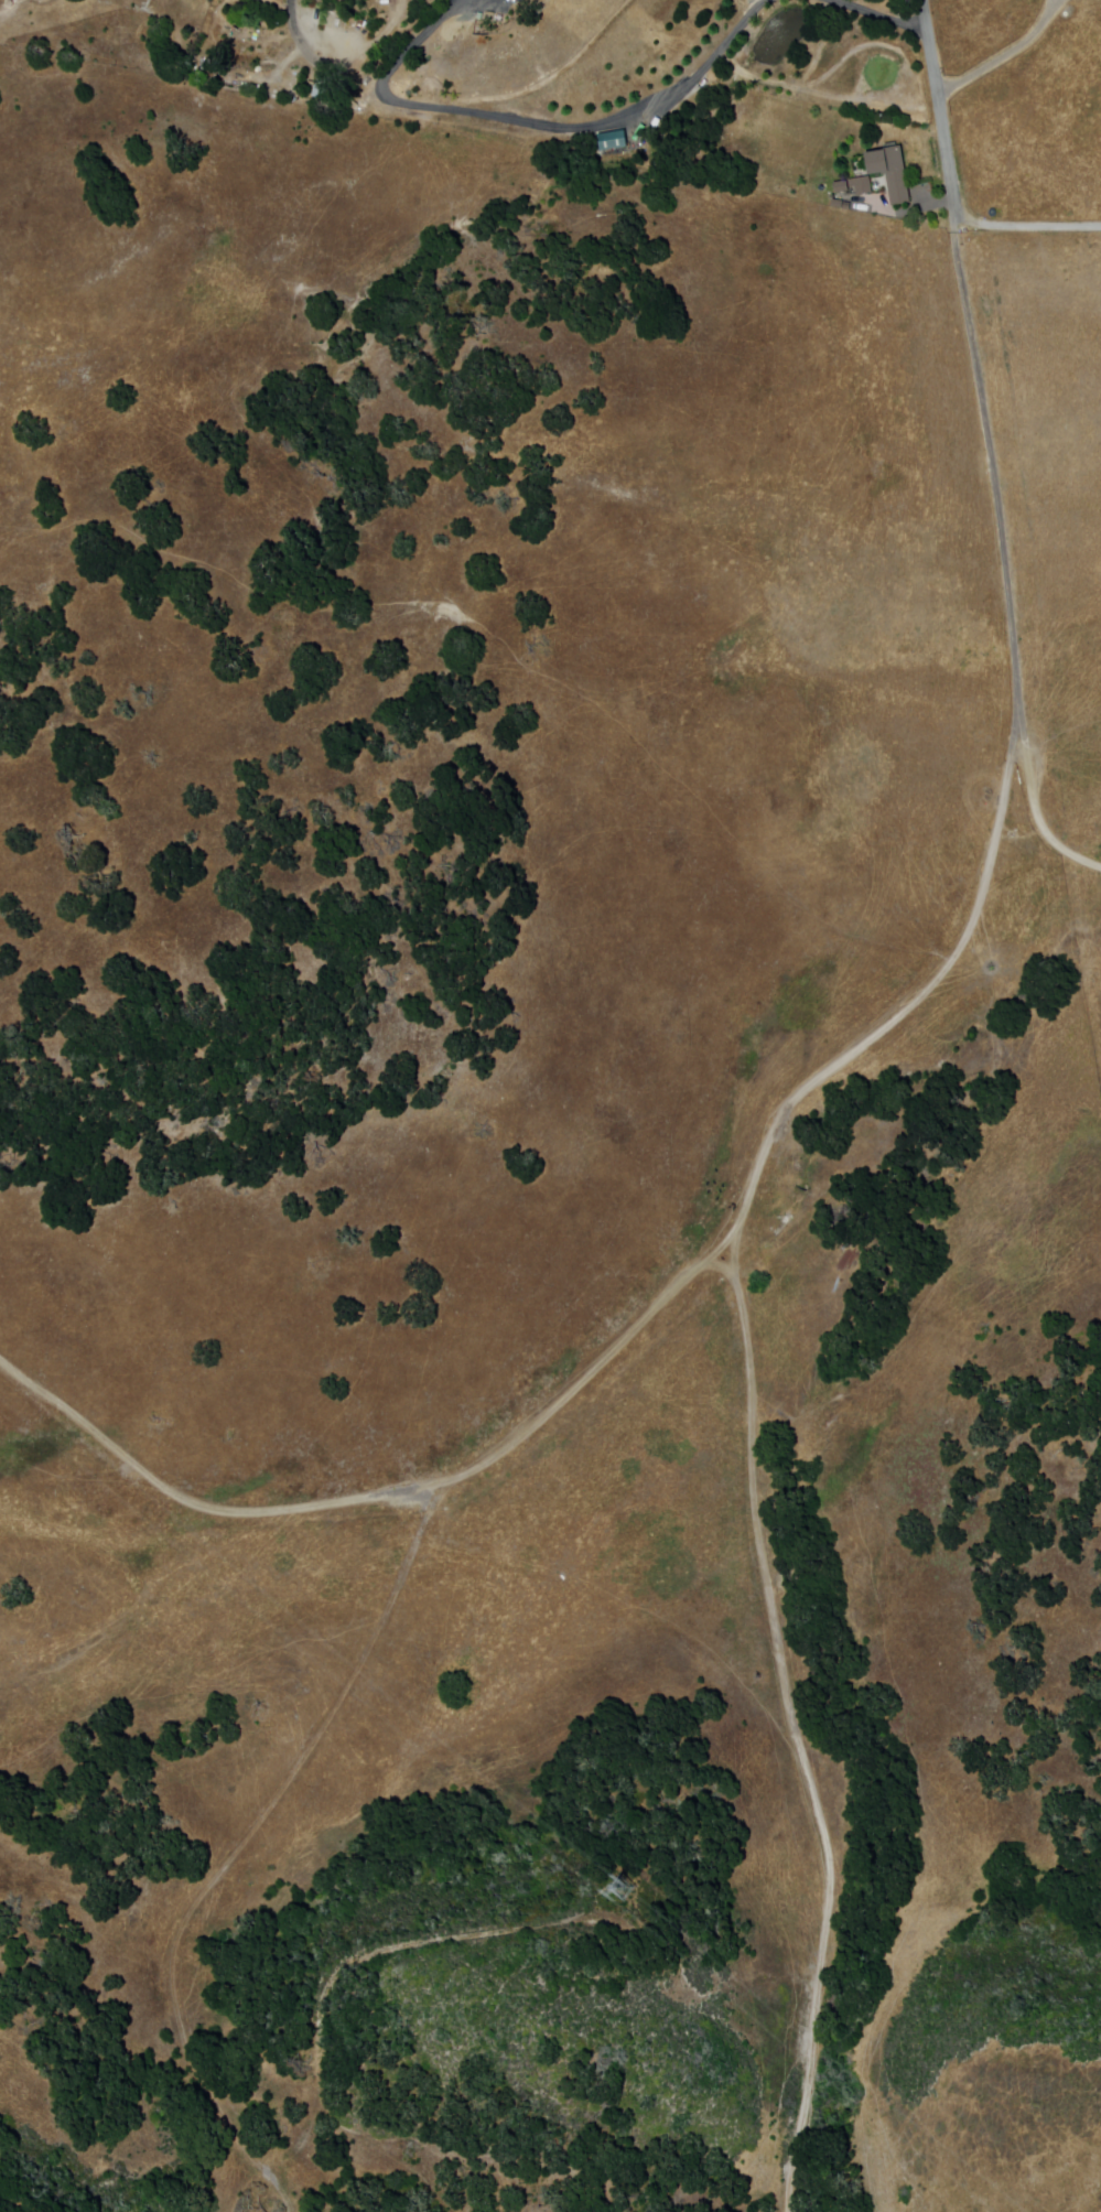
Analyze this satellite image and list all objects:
road: (881, 17)
building: (355, 22)
road: (298, 39)
road: (419, 43)
building: (212, 69)
building: (314, 86)
building: (324, 93)
road: (596, 126)
building: (613, 139)
building: (889, 173)
building: (862, 187)
building: (841, 188)
building: (822, 190)
building: (840, 206)
road: (1023, 226)
road: (1036, 813)
road: (813, 1083)
road: (389, 1496)
road: (236, 1852)
power tower: (615, 1885)
road: (11, 2204)

